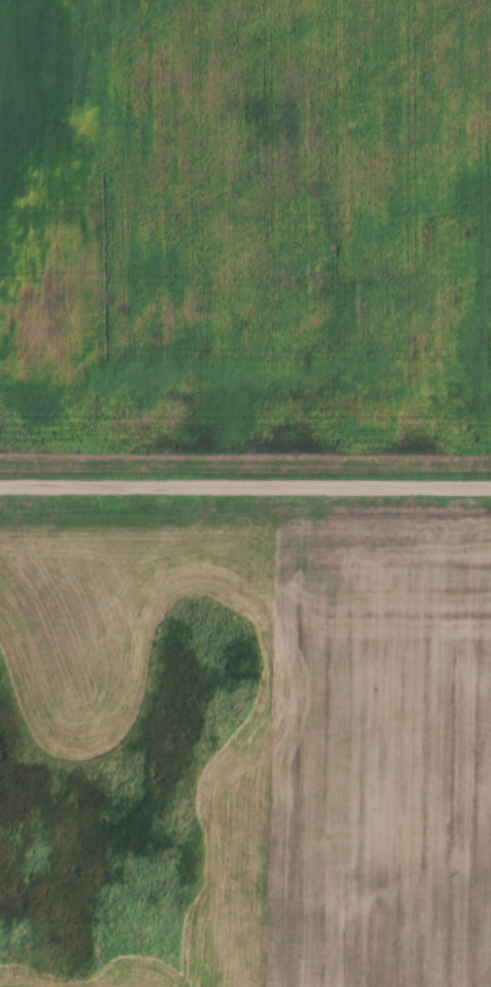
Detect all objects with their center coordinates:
road: (245, 485)

